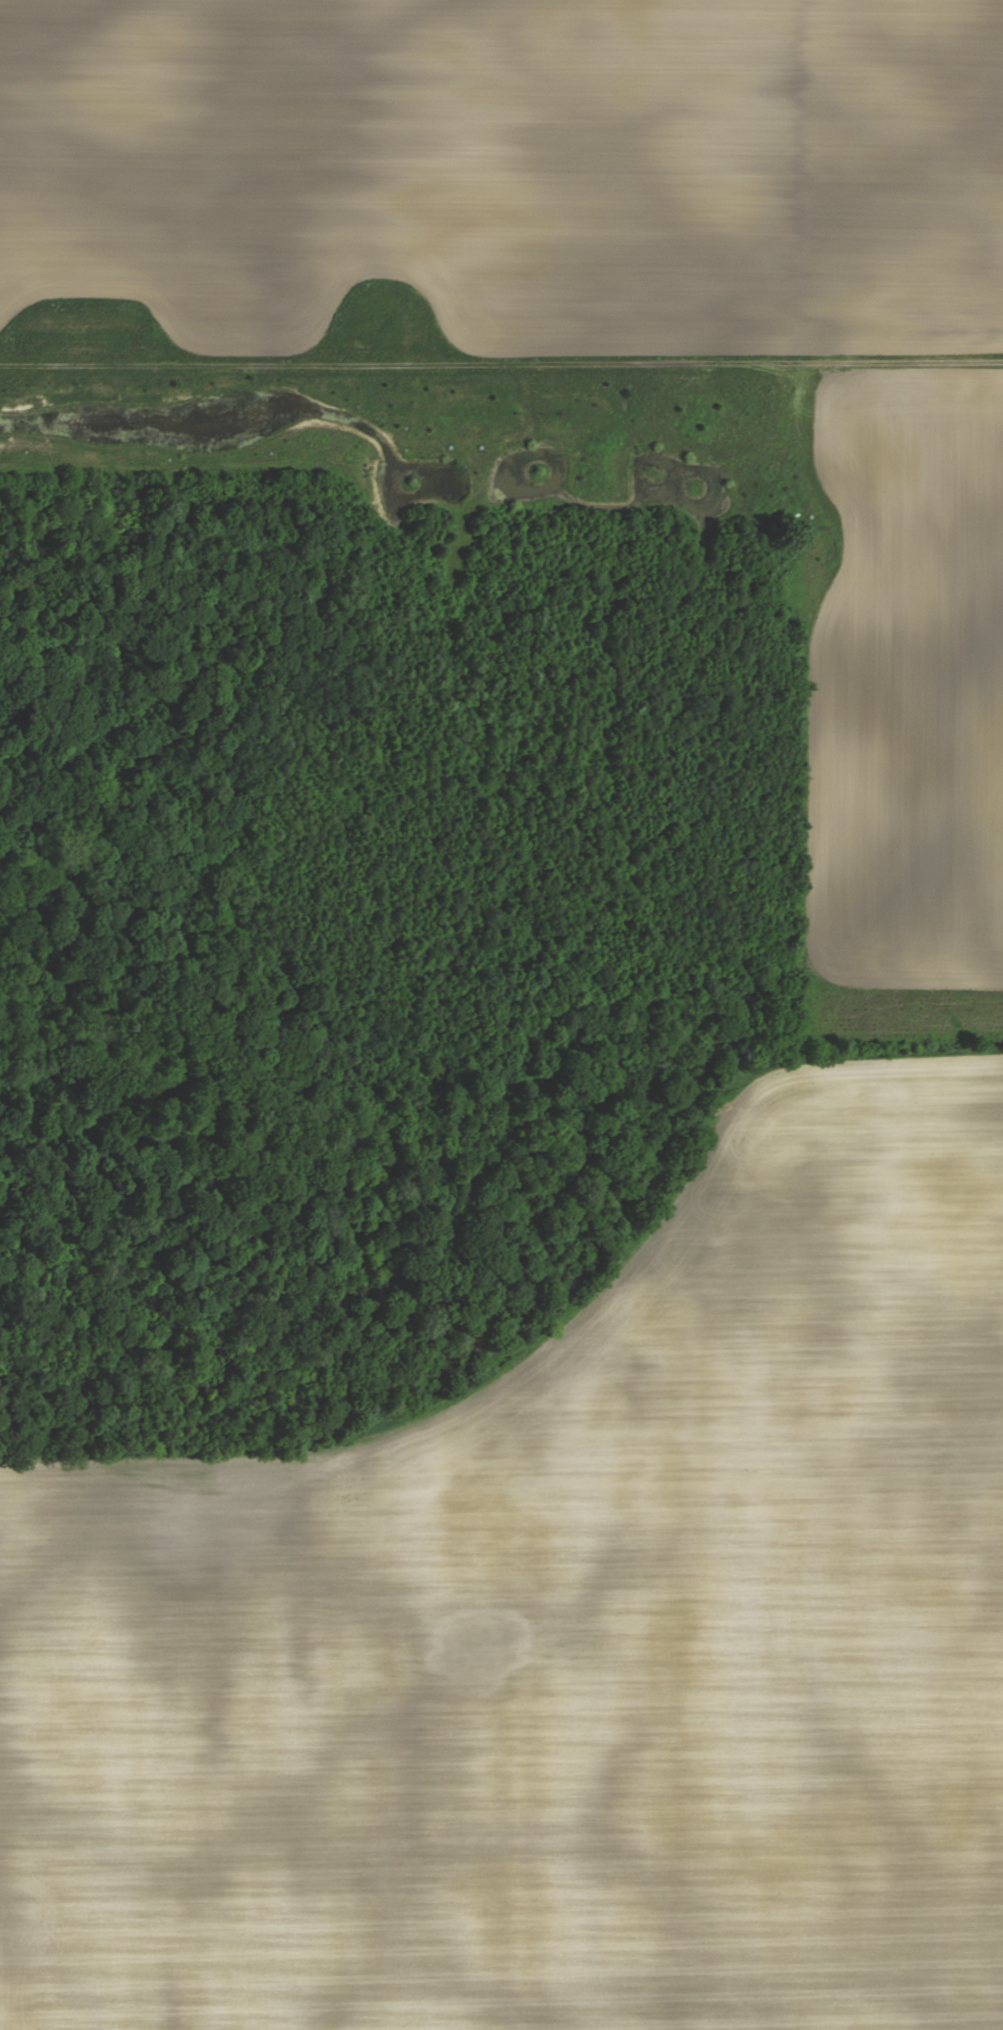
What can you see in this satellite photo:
road: (501, 352)

